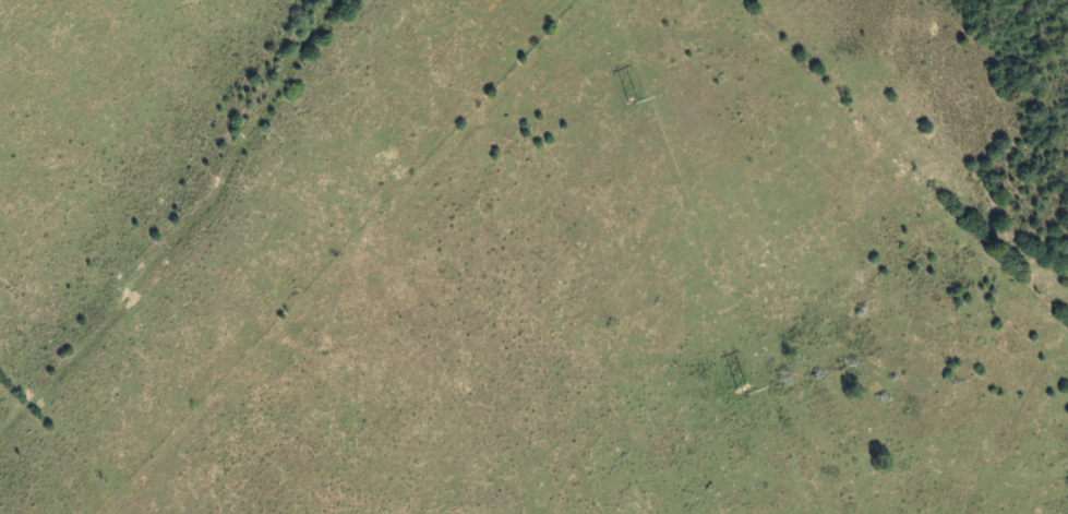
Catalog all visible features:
power tower: (626, 98)
power tower: (739, 385)

